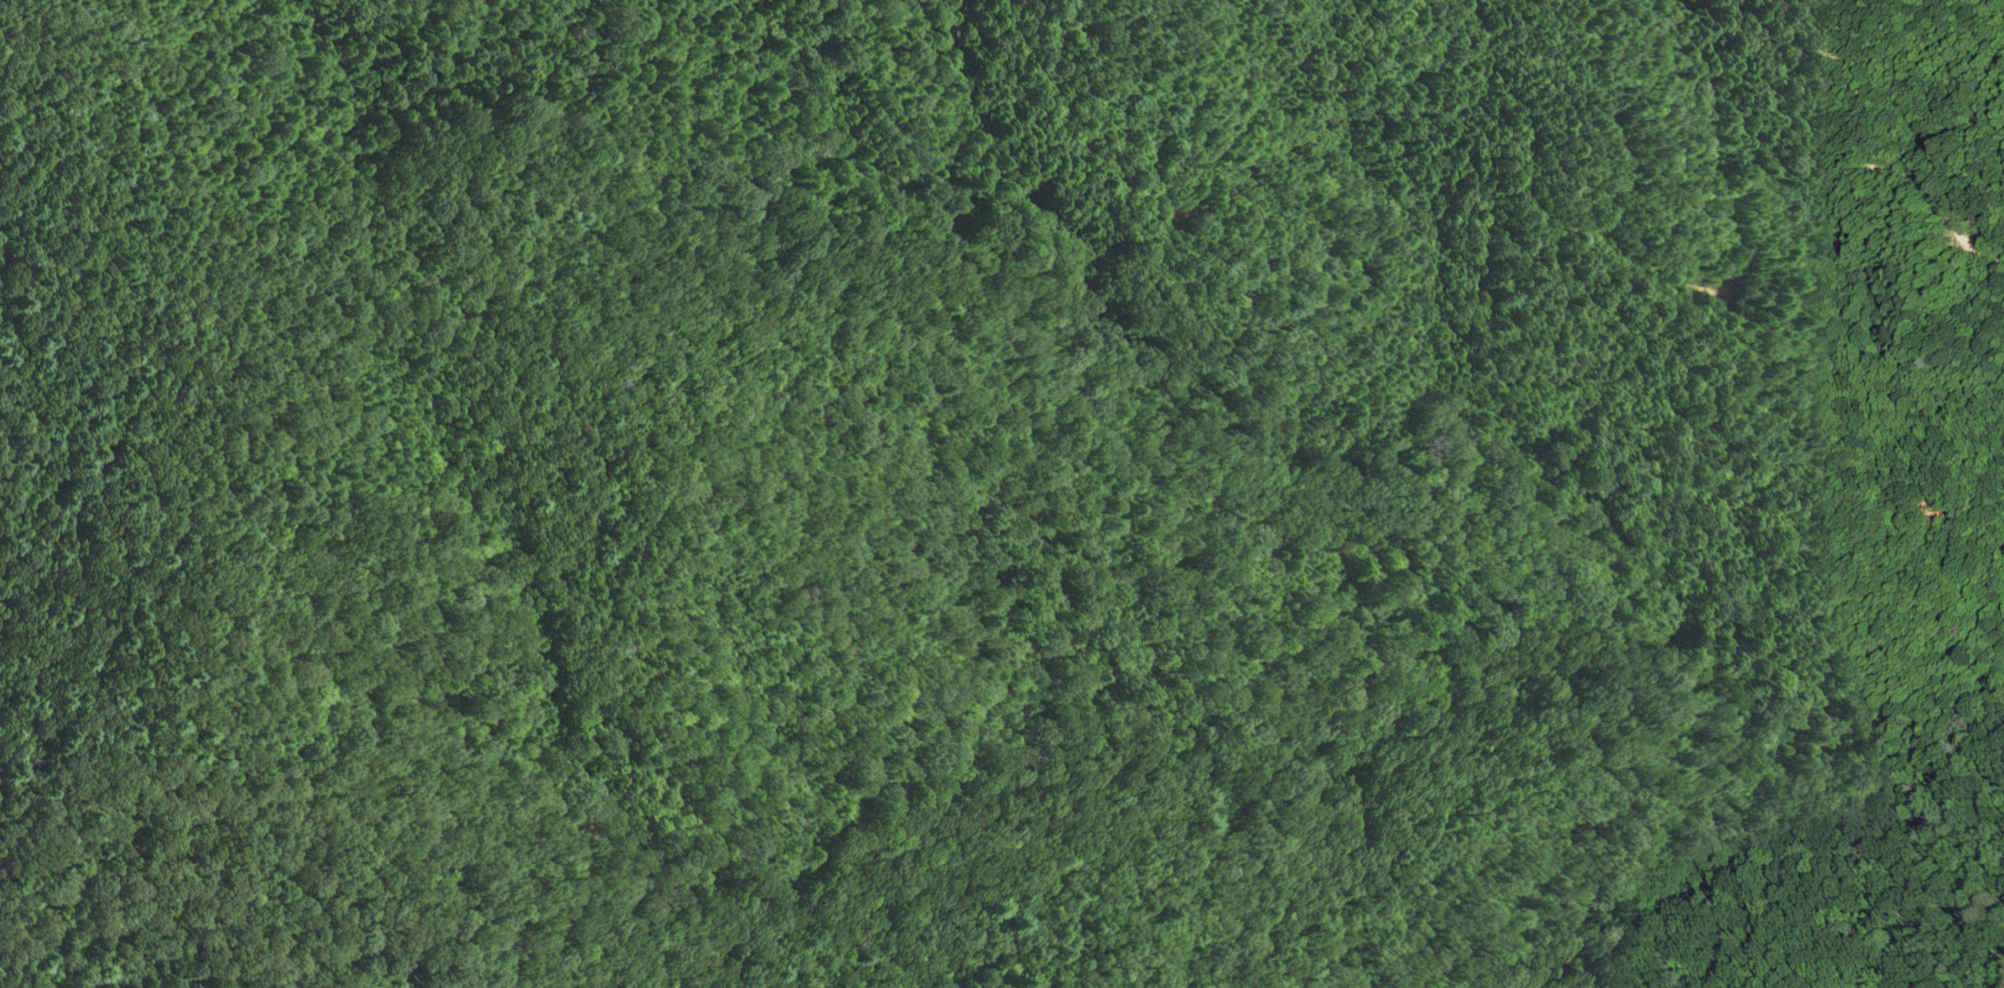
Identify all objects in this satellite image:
park: (1089, 484)

